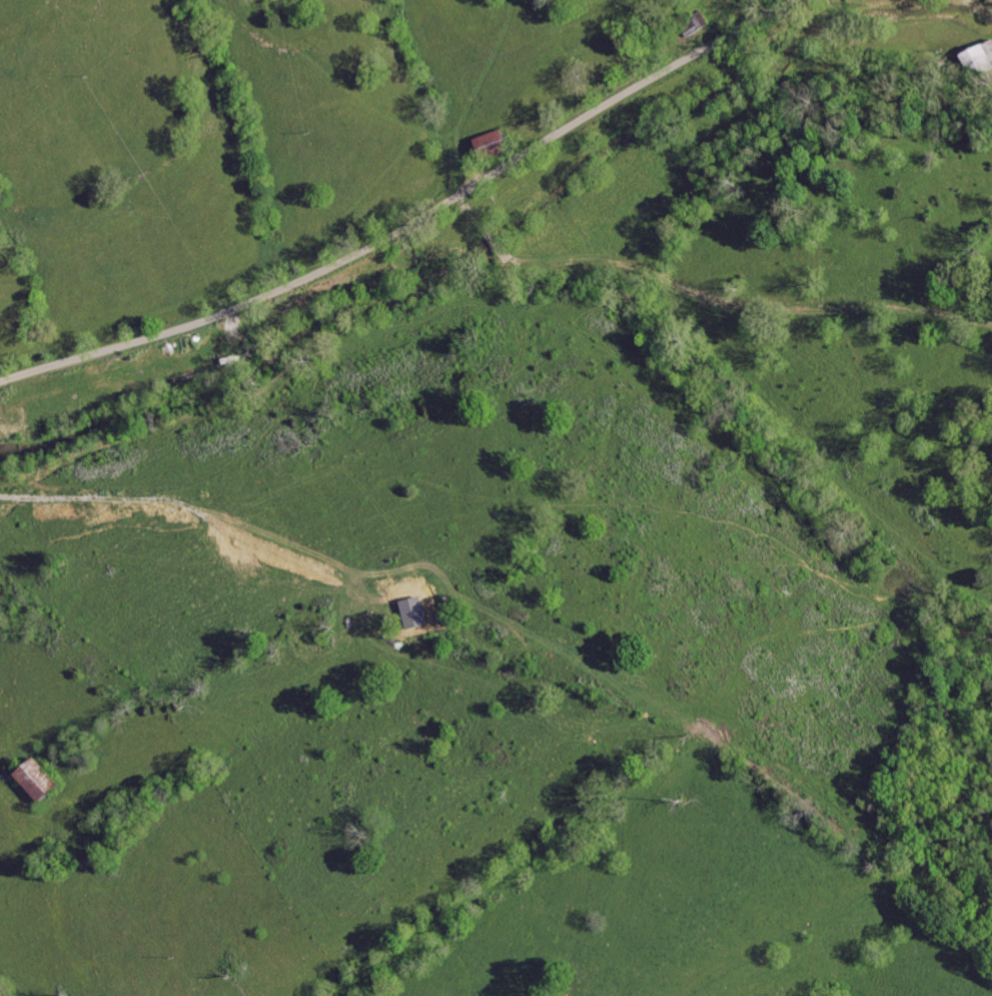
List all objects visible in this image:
road: (981, 8)
building: (689, 23)
building: (979, 60)
building: (484, 147)
road: (409, 224)
road: (709, 290)
building: (32, 779)

